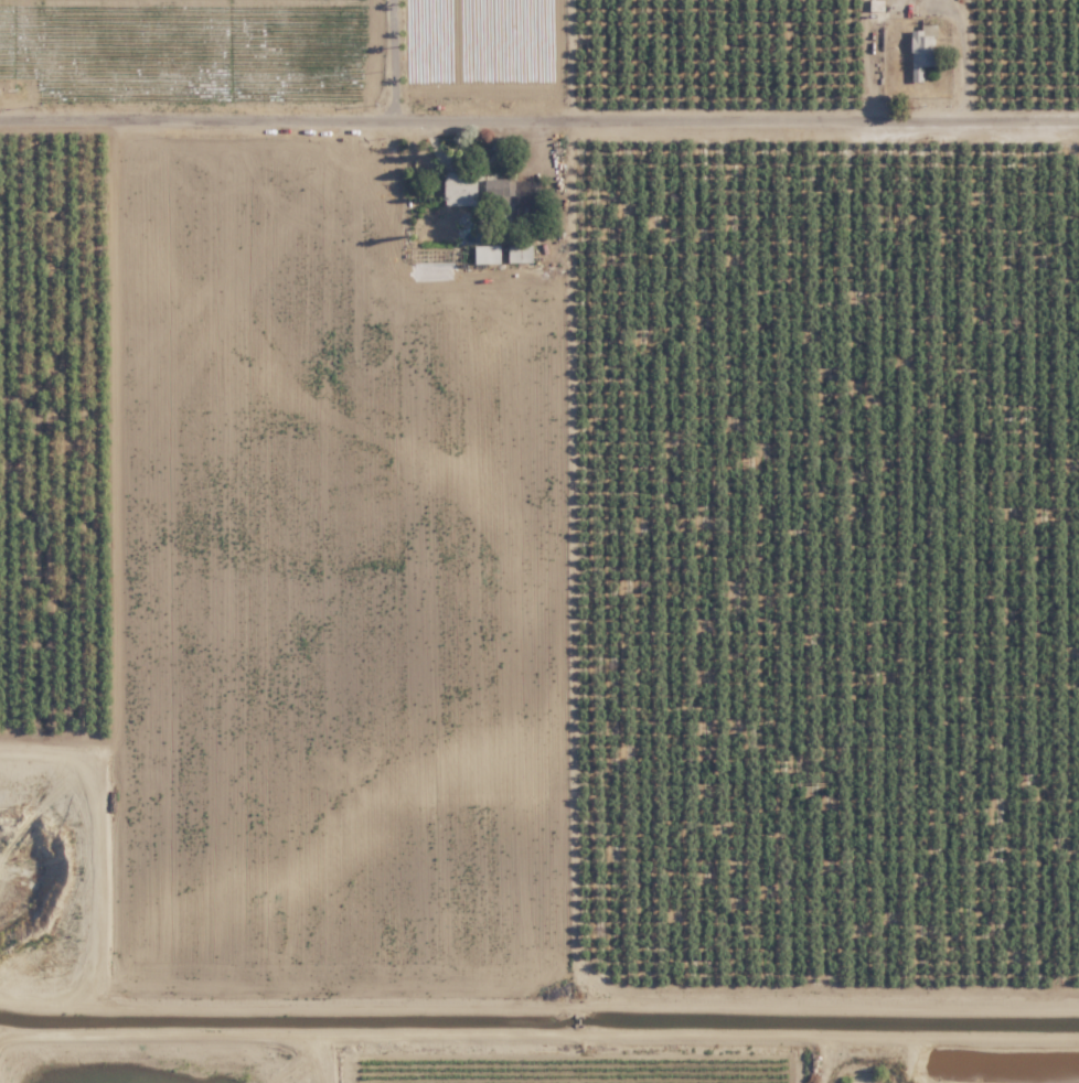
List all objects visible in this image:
road: (963, 47)
crop: (286, 49)
crop: (822, 49)
building: (922, 50)
road: (392, 55)
road: (538, 111)
road: (539, 178)
building: (461, 187)
building: (500, 189)
building: (489, 253)
building: (520, 253)
crop: (1051, 613)
crop: (332, 616)
crop: (795, 620)
crop: (937, 1070)

